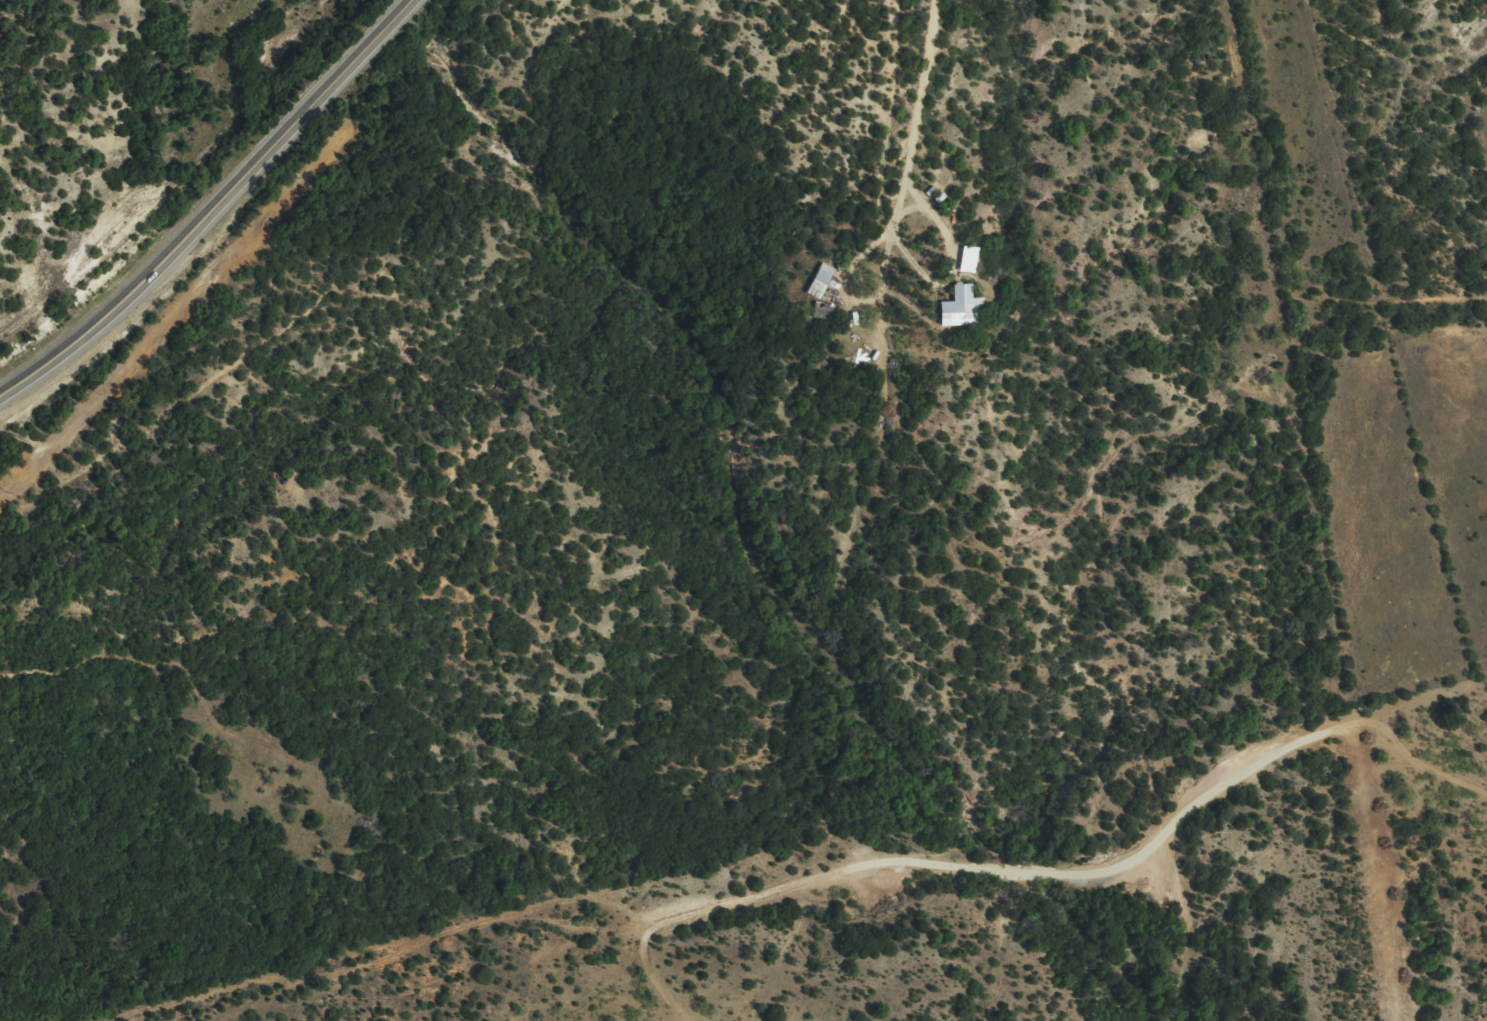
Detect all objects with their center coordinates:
road: (920, 93)
road: (215, 208)
building: (965, 267)
road: (940, 287)
building: (818, 289)
building: (957, 316)
road: (841, 916)

